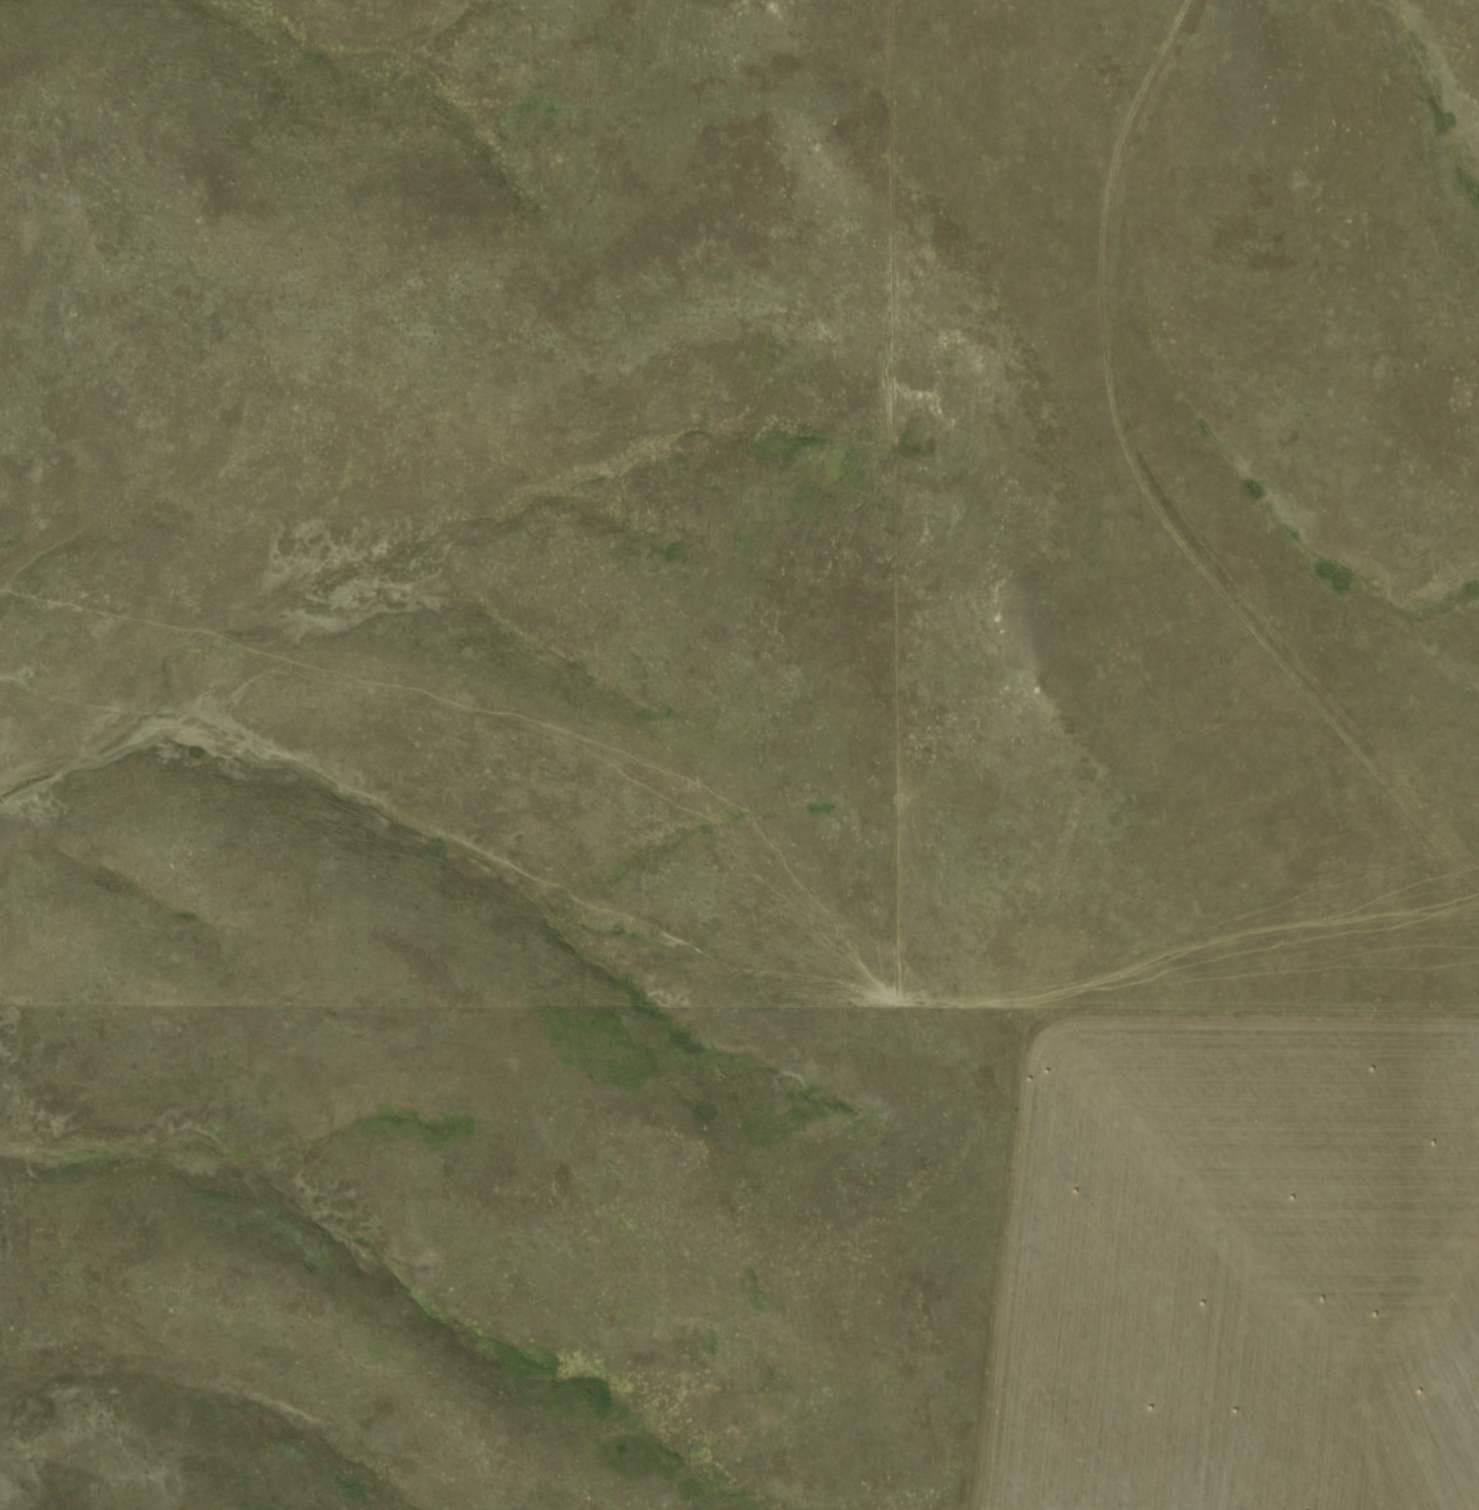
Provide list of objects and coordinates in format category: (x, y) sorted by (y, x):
road: (1147, 487)

